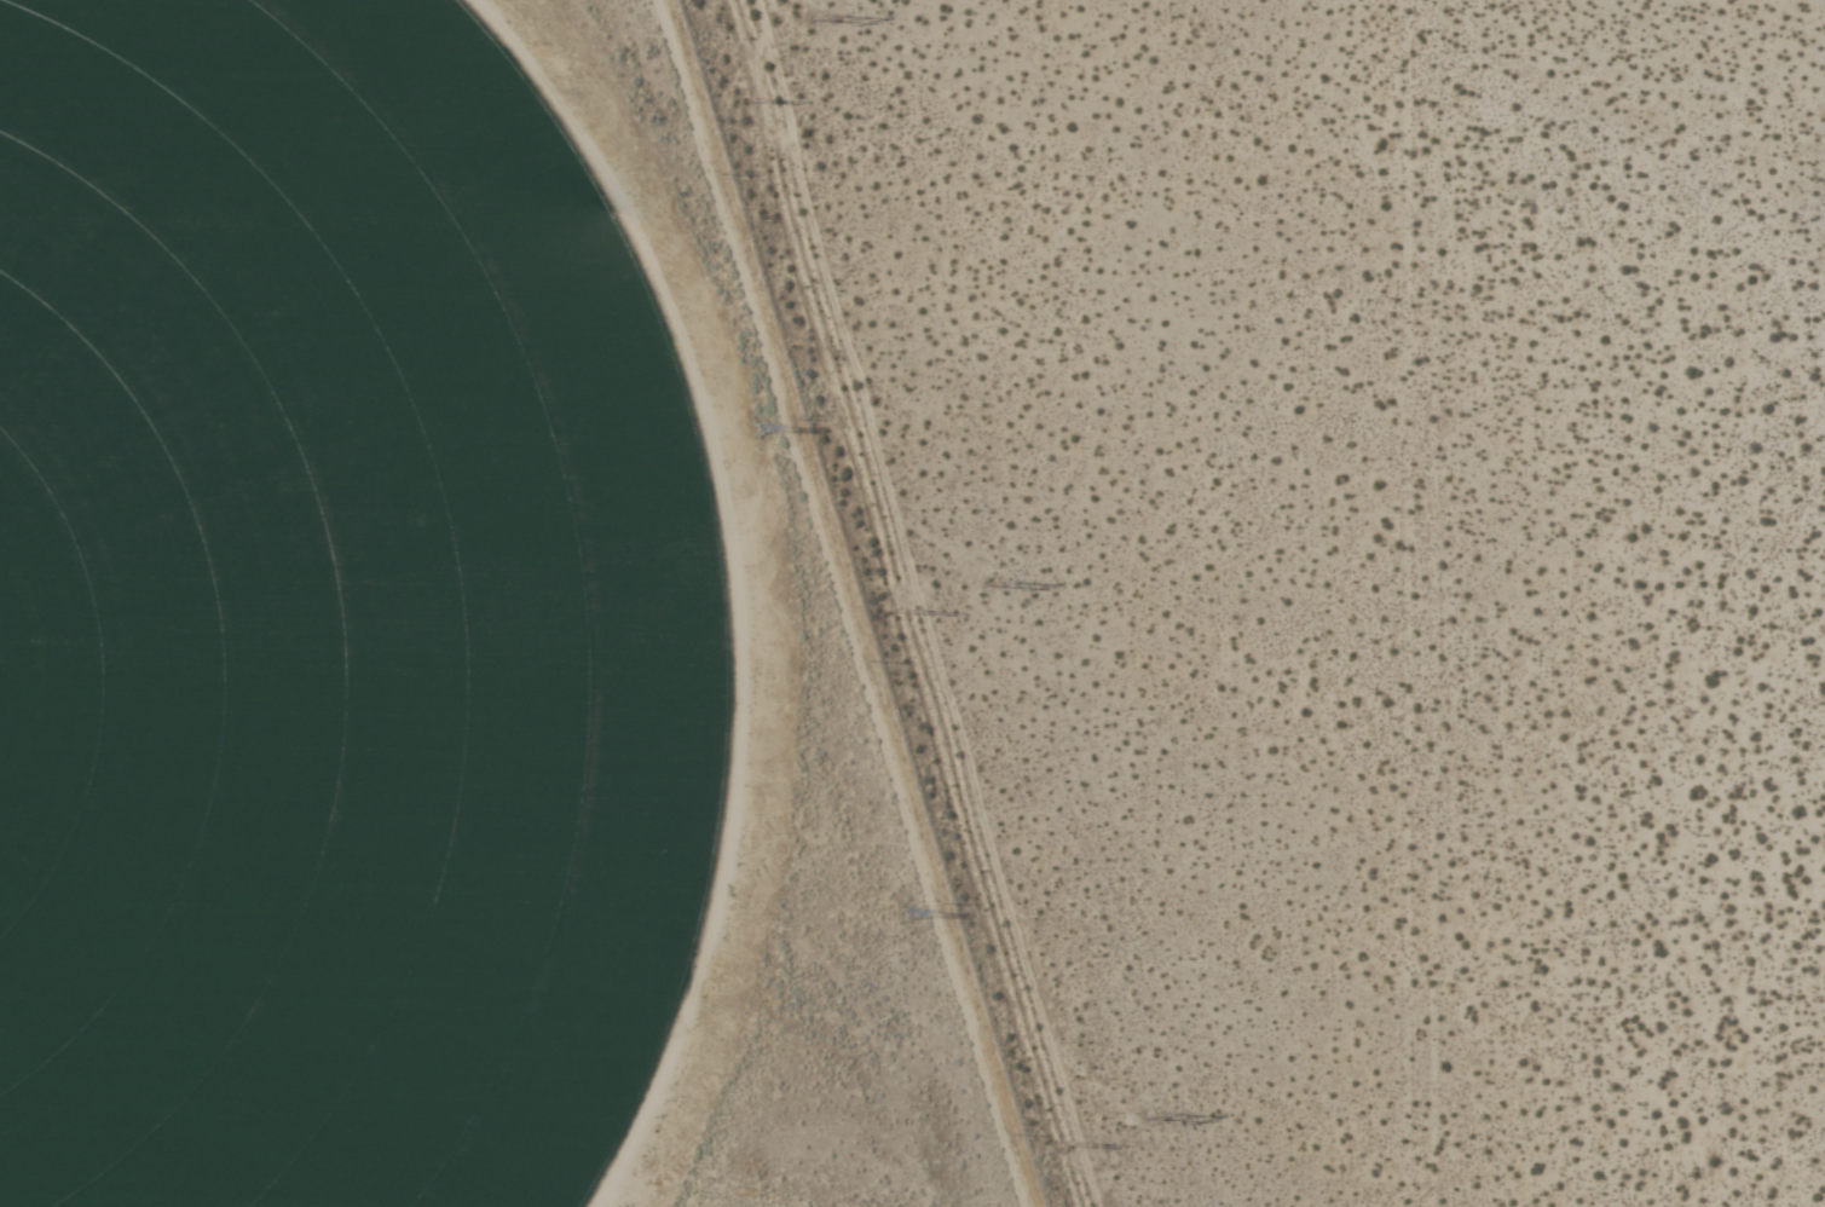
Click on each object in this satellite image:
power tower: (832, 19)
power tower: (764, 97)
power tower: (767, 429)
power tower: (1005, 584)
power tower: (902, 611)
crop: (329, 618)
power tower: (912, 914)
power tower: (1161, 1113)
power tower: (1058, 1142)

